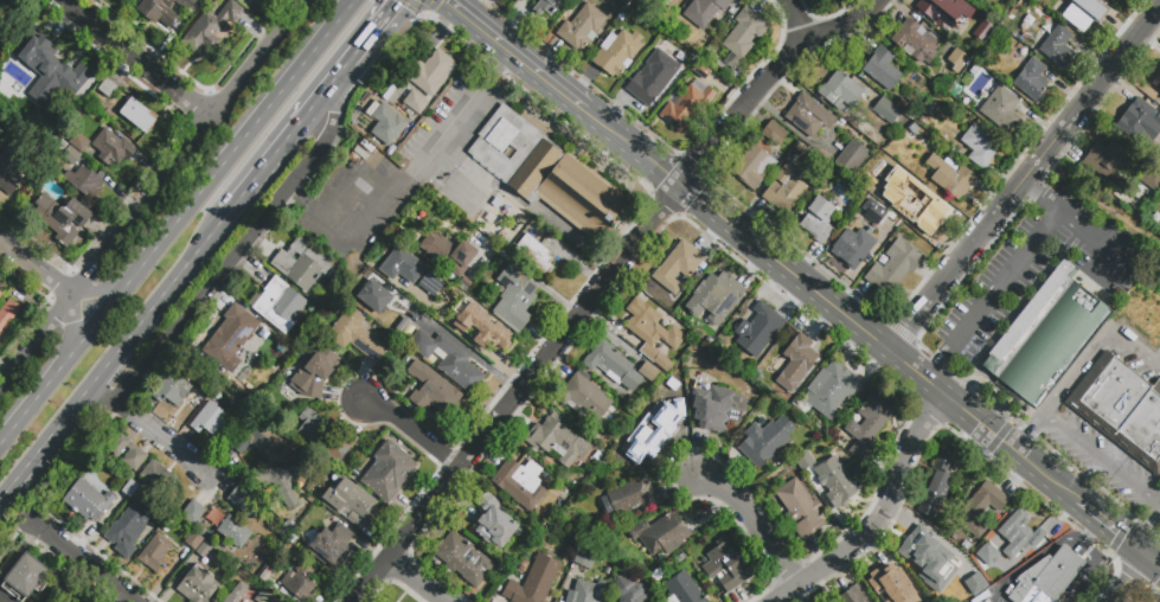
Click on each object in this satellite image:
building: (130, 0)
building: (251, 1)
traffic signals: (448, 1)
building: (1114, 1)
building: (1, 2)
building: (664, 2)
traffic signals: (398, 4)
road: (297, 7)
road: (470, 7)
road: (459, 8)
building: (546, 8)
building: (943, 9)
building: (165, 11)
building: (704, 11)
building: (1083, 15)
road: (794, 17)
road: (339, 20)
road: (513, 20)
building: (581, 26)
building: (210, 27)
road: (378, 27)
road: (437, 32)
building: (742, 37)
building: (915, 41)
building: (1057, 46)
building: (616, 52)
road: (549, 55)
road: (134, 58)
road: (352, 59)
building: (956, 60)
road: (526, 63)
road: (501, 64)
building: (1159, 68)
building: (882, 69)
building: (50, 70)
building: (432, 73)
building: (1031, 78)
building: (652, 79)
road: (582, 82)
building: (1158, 82)
building: (105, 88)
road: (329, 89)
building: (840, 90)
road: (337, 96)
building: (415, 102)
building: (688, 102)
building: (998, 108)
road: (622, 113)
building: (887, 114)
building: (136, 115)
building: (808, 116)
building: (1136, 119)
road: (256, 124)
building: (386, 126)
building: (0, 132)
building: (774, 133)
building: (78, 142)
road: (632, 145)
building: (110, 147)
building: (979, 147)
road: (180, 153)
building: (70, 156)
building: (1104, 159)
building: (852, 160)
building: (11, 165)
road: (267, 167)
building: (755, 168)
road: (486, 171)
building: (545, 173)
building: (950, 178)
road: (1025, 180)
building: (1152, 180)
building: (83, 181)
road: (404, 187)
building: (784, 188)
road: (1037, 192)
road: (296, 193)
road: (1103, 199)
road: (1056, 206)
building: (927, 213)
building: (62, 218)
building: (818, 219)
road: (786, 225)
road: (712, 233)
road: (570, 237)
building: (852, 246)
road: (1028, 251)
building: (448, 252)
building: (534, 252)
road: (154, 254)
road: (30, 261)
road: (807, 262)
building: (301, 263)
road: (222, 264)
building: (400, 265)
building: (678, 267)
road: (863, 267)
building: (891, 269)
road: (525, 273)
building: (1134, 277)
road: (602, 281)
road: (66, 289)
road: (98, 292)
building: (1, 293)
building: (372, 296)
building: (514, 297)
building: (714, 297)
road: (853, 297)
building: (442, 300)
road: (773, 301)
building: (277, 305)
crop: (1142, 308)
building: (7, 314)
road: (75, 320)
road: (822, 321)
building: (481, 328)
building: (758, 332)
building: (652, 334)
building: (355, 335)
building: (1050, 337)
building: (230, 339)
road: (36, 340)
road: (876, 340)
road: (466, 350)
road: (1095, 352)
road: (111, 359)
building: (448, 359)
building: (796, 363)
road: (937, 364)
building: (611, 365)
road: (852, 366)
road: (58, 372)
building: (647, 372)
building: (316, 373)
building: (828, 388)
building: (172, 390)
building: (403, 390)
building: (432, 391)
building: (1107, 393)
building: (583, 396)
road: (97, 398)
road: (118, 410)
building: (714, 411)
building: (209, 420)
traffic signals: (980, 421)
building: (867, 424)
building: (652, 430)
building: (1142, 430)
road: (414, 434)
road: (1028, 434)
road: (159, 435)
building: (323, 436)
building: (252, 438)
building: (559, 441)
building: (765, 441)
building: (128, 453)
traffic signals: (1026, 455)
road: (1102, 459)
road: (78, 463)
building: (805, 463)
building: (387, 470)
road: (1018, 475)
building: (158, 476)
building: (520, 481)
building: (834, 482)
building: (280, 483)
building: (129, 488)
building: (937, 488)
building: (630, 497)
building: (86, 500)
building: (245, 500)
building: (350, 502)
building: (981, 507)
building: (800, 508)
building: (193, 512)
road: (879, 514)
road: (30, 520)
road: (752, 523)
building: (492, 524)
road: (1110, 525)
building: (128, 527)
road: (1046, 529)
building: (233, 531)
road: (1148, 532)
building: (661, 533)
road: (1095, 534)
building: (1024, 536)
road: (8, 540)
building: (193, 540)
building: (204, 549)
building: (328, 549)
building: (927, 549)
road: (1154, 551)
building: (153, 553)
traffic signals: (1148, 555)
building: (583, 557)
road: (1154, 558)
building: (463, 559)
road: (84, 561)
road: (1032, 564)
building: (724, 565)
road: (1097, 574)
building: (25, 576)
building: (1046, 577)
road: (1128, 578)
building: (533, 581)
building: (300, 582)
road: (412, 582)
building: (199, 584)
building: (886, 584)
building: (682, 589)
building: (630, 591)
building: (237, 593)
building: (584, 593)
building: (263, 595)
building: (58, 596)
building: (854, 596)
building: (50, 598)
building: (213, 601)

